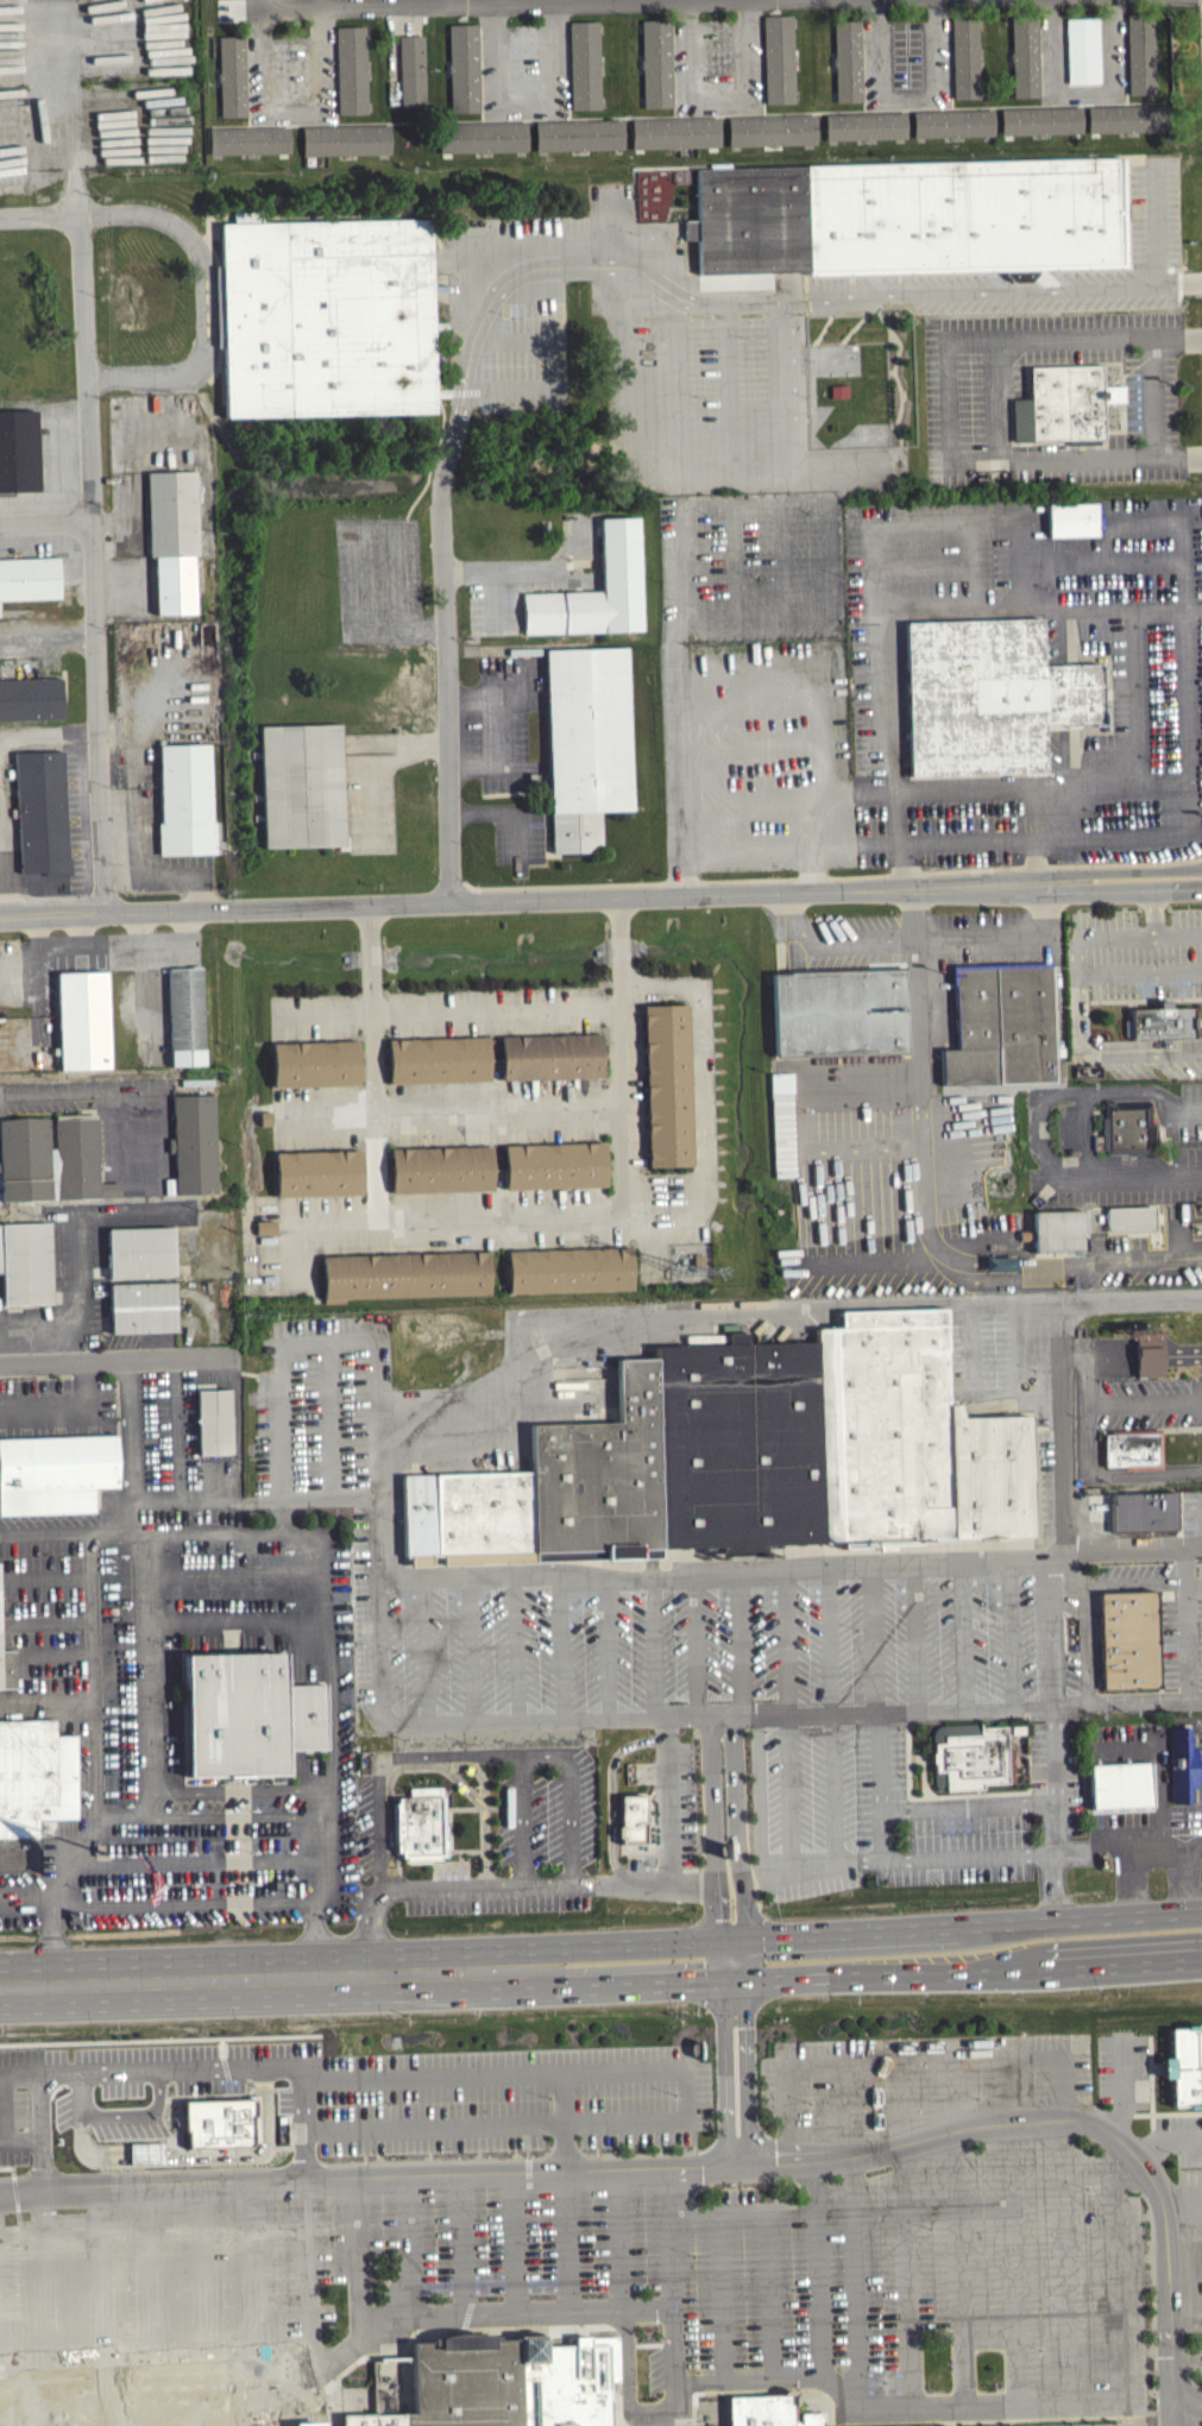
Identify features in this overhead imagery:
road: (391, 2)
road: (1201, 15)
building: (1139, 52)
building: (1024, 53)
building: (964, 56)
building: (1082, 56)
building: (716, 57)
building: (778, 58)
building: (847, 59)
building: (906, 59)
road: (1040, 61)
building: (522, 62)
building: (656, 62)
road: (949, 63)
building: (584, 64)
road: (760, 65)
road: (863, 65)
building: (462, 67)
building: (350, 69)
building: (411, 70)
road: (673, 70)
road: (567, 71)
road: (479, 73)
building: (232, 75)
building: (289, 75)
road: (334, 76)
road: (246, 81)
road: (1082, 89)
road: (907, 97)
road: (718, 101)
road: (1145, 101)
road: (524, 105)
road: (291, 114)
road: (710, 114)
building: (1128, 116)
building: (1040, 120)
building: (952, 121)
building: (864, 125)
building: (772, 128)
building: (674, 131)
building: (578, 133)
building: (482, 136)
building: (248, 139)
building: (345, 139)
road: (39, 216)
building: (911, 216)
road: (1154, 221)
building: (690, 235)
road: (540, 267)
road: (1172, 282)
road: (530, 289)
road: (974, 294)
road: (201, 303)
building: (328, 317)
road: (518, 340)
parking lot: (526, 354)
road: (676, 389)
road: (778, 389)
road: (728, 391)
road: (514, 392)
road: (996, 398)
road: (945, 399)
road: (1153, 402)
building: (1063, 404)
road: (618, 443)
building: (17, 456)
building: (1071, 518)
road: (45, 524)
building: (171, 543)
building: (621, 554)
road: (92, 563)
parking lot: (749, 565)
road: (498, 569)
parking lot: (380, 580)
building: (27, 584)
parking lot: (498, 604)
road: (899, 610)
road: (48, 637)
building: (989, 694)
road: (471, 697)
road: (446, 701)
building: (30, 704)
parking lot: (502, 719)
road: (498, 730)
road: (48, 732)
road: (408, 744)
building: (585, 748)
parking lot: (756, 754)
road: (1138, 754)
road: (473, 763)
building: (300, 790)
parking lot: (370, 792)
road: (371, 796)
road: (1190, 802)
building: (184, 804)
road: (483, 812)
building: (40, 817)
parking lot: (518, 833)
road: (518, 833)
road: (949, 845)
road: (776, 853)
road: (1134, 870)
road: (808, 871)
road: (832, 876)
road: (2, 882)
road: (757, 890)
road: (1133, 891)
road: (224, 908)
road: (1154, 913)
road: (187, 924)
road: (139, 925)
road: (81, 927)
road: (37, 930)
road: (1178, 933)
road: (112, 940)
road: (1006, 943)
road: (829, 944)
parking lot: (1141, 951)
road: (1080, 972)
road: (38, 973)
road: (447, 1012)
building: (838, 1012)
building: (87, 1019)
building: (185, 1021)
building: (1159, 1022)
building: (1001, 1023)
road: (1106, 1048)
road: (619, 1058)
building: (549, 1061)
road: (370, 1064)
parking lot: (1151, 1064)
building: (313, 1069)
building: (665, 1090)
road: (99, 1092)
road: (454, 1115)
building: (1128, 1124)
road: (1037, 1134)
road: (1084, 1134)
building: (194, 1149)
building: (51, 1159)
road: (1112, 1159)
parking lot: (1133, 1166)
building: (552, 1171)
building: (439, 1174)
building: (316, 1178)
road: (923, 1214)
building: (1128, 1217)
road: (495, 1222)
building: (1058, 1230)
building: (265, 1233)
building: (140, 1252)
building: (26, 1262)
building: (568, 1268)
building: (992, 1269)
building: (404, 1274)
building: (143, 1306)
road: (778, 1313)
road: (380, 1344)
building: (1148, 1353)
road: (109, 1360)
road: (1182, 1361)
road: (1096, 1362)
road: (1148, 1362)
road: (1087, 1382)
road: (995, 1391)
road: (1144, 1399)
parking lot: (1150, 1401)
road: (65, 1406)
parking lot: (326, 1407)
building: (871, 1420)
building: (213, 1422)
road: (1059, 1429)
parking lot: (159, 1437)
building: (740, 1444)
building: (932, 1444)
building: (1131, 1449)
building: (56, 1472)
road: (1108, 1473)
building: (990, 1475)
building: (602, 1476)
road: (307, 1500)
road: (156, 1502)
building: (1143, 1511)
building: (421, 1516)
building: (486, 1516)
road: (140, 1517)
road: (96, 1533)
road: (382, 1538)
road: (228, 1544)
road: (793, 1568)
road: (46, 1576)
road: (1194, 1579)
road: (1134, 1582)
parking lot: (372, 1607)
road: (1187, 1620)
road: (295, 1621)
road: (1085, 1621)
parking lot: (1171, 1621)
road: (49, 1622)
parking lot: (166, 1626)
road: (1012, 1633)
road: (964, 1636)
road: (915, 1637)
road: (875, 1638)
road: (830, 1639)
building: (1128, 1639)
road: (786, 1642)
road: (561, 1643)
road: (738, 1643)
road: (472, 1645)
road: (517, 1645)
road: (609, 1645)
road: (696, 1645)
road: (426, 1646)
road: (654, 1646)
parking lot: (725, 1646)
road: (55, 1652)
building: (7, 1668)
road: (1053, 1681)
road: (46, 1704)
road: (725, 1715)
building: (251, 1719)
parking lot: (1125, 1739)
road: (333, 1747)
building: (970, 1756)
road: (879, 1760)
road: (1158, 1760)
road: (386, 1763)
building: (1181, 1764)
road: (427, 1765)
road: (472, 1766)
parking lot: (1058, 1783)
building: (1120, 1784)
building: (33, 1787)
road: (833, 1788)
road: (610, 1791)
road: (235, 1797)
road: (672, 1800)
road: (965, 1804)
parking lot: (876, 1816)
parking lot: (673, 1817)
building: (630, 1819)
road: (221, 1823)
building: (419, 1826)
parking lot: (367, 1832)
parking lot: (1148, 1833)
parking lot: (527, 1846)
road: (1127, 1848)
road: (726, 1850)
flagpole: (105, 1852)
parking lot: (210, 1855)
road: (956, 1857)
road: (245, 1865)
road: (569, 1865)
road: (774, 1869)
road: (1184, 1879)
road: (1132, 1883)
road: (649, 1884)
parking lot: (20, 1899)
road: (182, 1903)
road: (54, 1915)
road: (788, 1940)
traffic signals: (731, 1943)
road: (788, 1979)
road: (187, 1980)
traffic signals: (732, 1984)
building: (1184, 2065)
road: (1020, 2066)
road: (302, 2067)
parking lot: (1090, 2067)
road: (748, 2071)
road: (725, 2072)
road: (1064, 2075)
parking lot: (880, 2081)
road: (1124, 2084)
road: (687, 2093)
parking lot: (340, 2098)
road: (55, 2103)
road: (2, 2105)
building: (221, 2121)
road: (21, 2136)
parking lot: (1178, 2138)
road: (1166, 2142)
road: (699, 2163)
road: (1179, 2187)
road: (567, 2189)
road: (745, 2208)
road: (1183, 2229)
road: (906, 2232)
road: (957, 2232)
road: (852, 2235)
road: (673, 2237)
road: (618, 2239)
road: (460, 2244)
road: (516, 2244)
road: (413, 2245)
parking lot: (1190, 2245)
road: (359, 2257)
road: (1063, 2261)
road: (1184, 2269)
road: (45, 2273)
parking lot: (988, 2285)
parking lot: (159, 2292)
road: (254, 2293)
road: (772, 2293)
road: (204, 2294)
road: (153, 2295)
road: (720, 2295)
road: (101, 2296)
road: (540, 2312)
road: (1185, 2361)
parking lot: (1195, 2365)
building: (466, 2381)
building: (564, 2383)
road: (1187, 2395)
road: (1119, 2400)
road: (1172, 2407)
building: (767, 2409)
building: (377, 2413)
road: (1188, 2416)
building: (262, 2418)
building: (999, 2418)
road: (1173, 2421)
parking lot: (1107, 2424)
building: (310, 2425)

